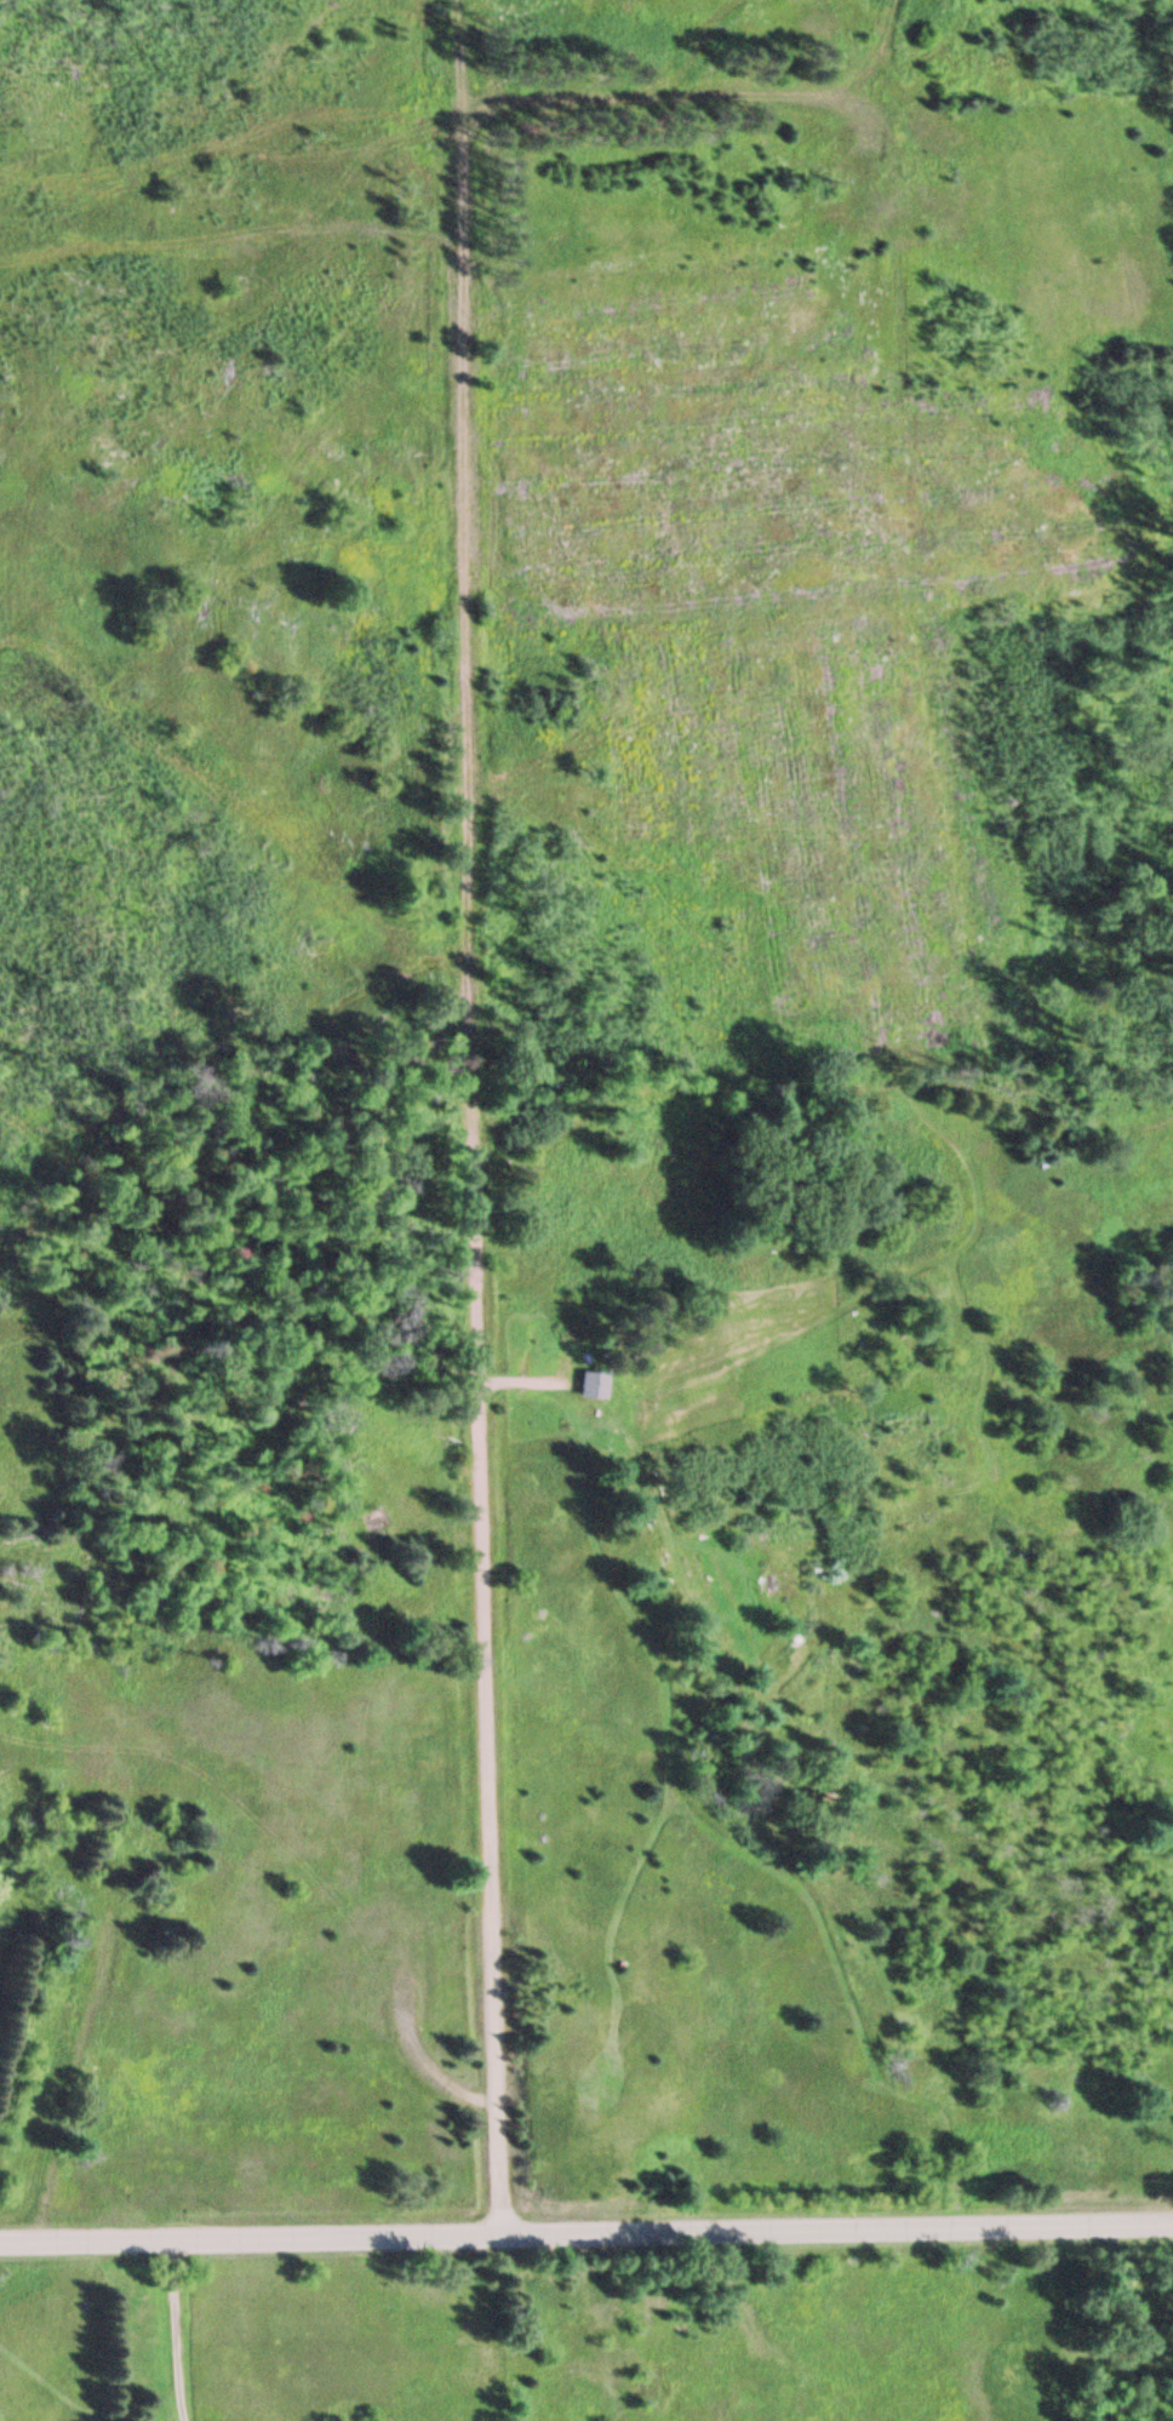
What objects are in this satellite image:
road: (475, 1105)
road: (585, 2231)

